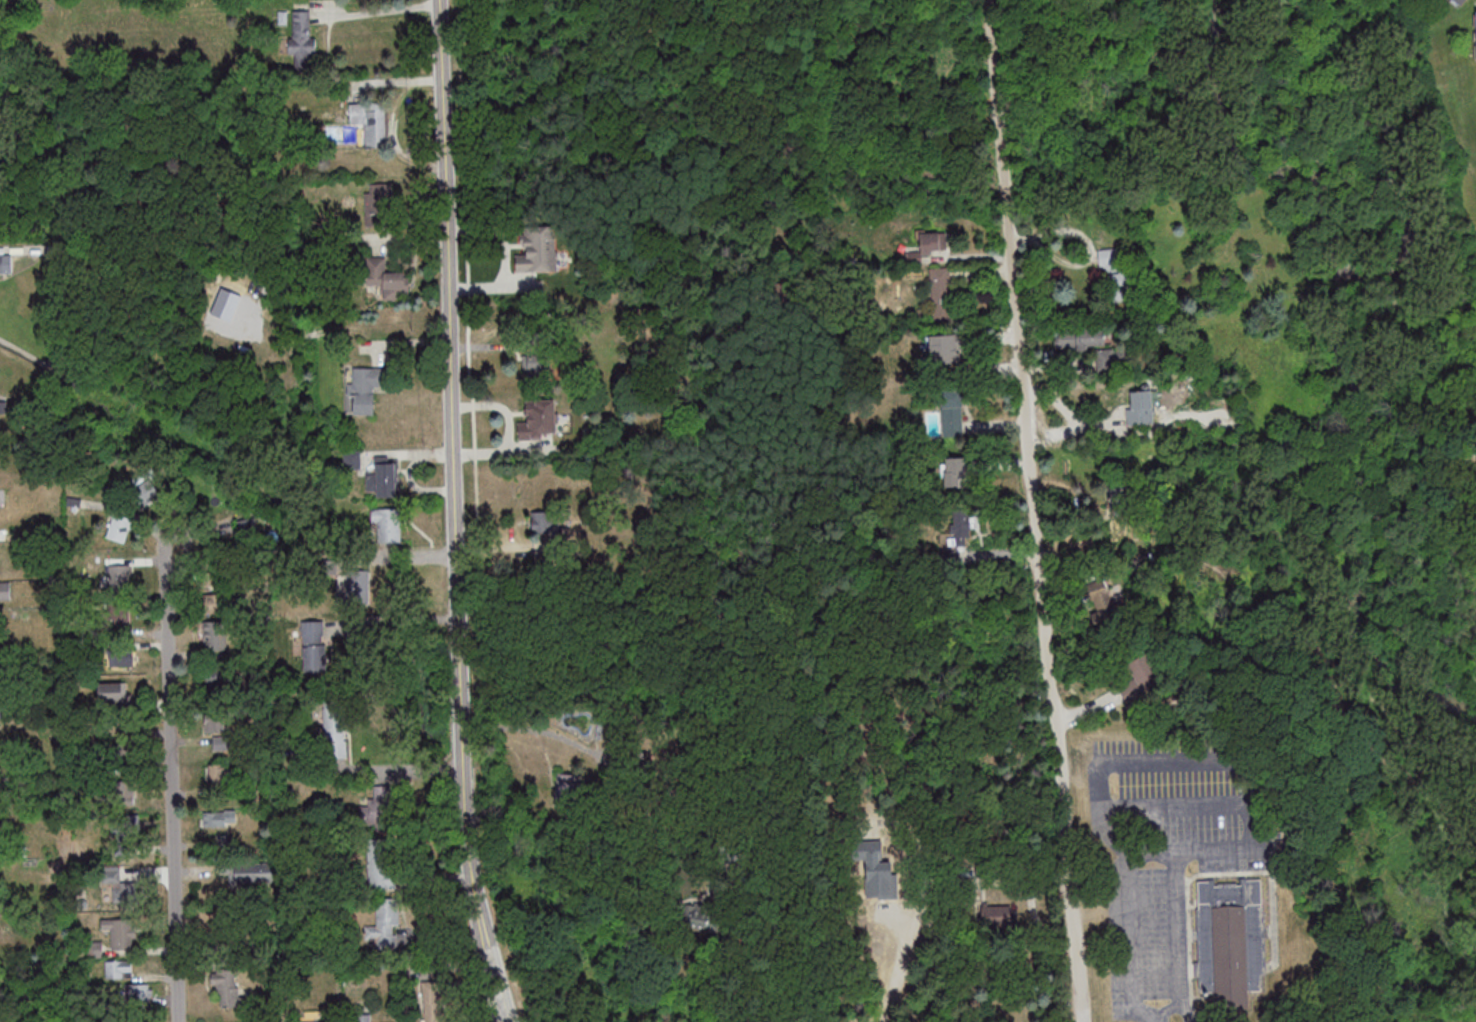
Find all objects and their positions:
building: (1462, 1)
road: (379, 12)
building: (299, 38)
building: (370, 121)
building: (378, 204)
building: (926, 246)
building: (538, 249)
building: (1, 264)
building: (1113, 276)
building: (387, 279)
building: (940, 293)
building: (229, 296)
building: (1083, 338)
building: (942, 349)
river: (1343, 355)
building: (543, 367)
building: (364, 387)
building: (1140, 408)
building: (952, 412)
building: (539, 419)
building: (351, 458)
building: (956, 472)
road: (456, 473)
building: (386, 477)
road: (1033, 511)
building: (545, 522)
building: (387, 523)
building: (119, 527)
building: (247, 527)
building: (960, 528)
building: (119, 574)
building: (220, 579)
building: (357, 586)
building: (4, 590)
building: (1106, 600)
building: (117, 614)
road: (399, 619)
building: (216, 641)
building: (316, 645)
building: (121, 657)
building: (219, 679)
building: (111, 691)
building: (216, 721)
building: (335, 730)
building: (122, 750)
road: (1132, 759)
road: (403, 769)
building: (215, 773)
road: (172, 777)
building: (647, 787)
building: (567, 789)
building: (124, 793)
building: (378, 808)
building: (218, 818)
building: (126, 824)
building: (128, 852)
building: (381, 865)
building: (250, 874)
road: (995, 878)
building: (119, 885)
road: (1031, 903)
building: (697, 912)
building: (999, 916)
building: (384, 925)
road: (1180, 930)
building: (233, 931)
building: (120, 932)
building: (1231, 942)
building: (118, 968)
road: (733, 978)
road: (497, 984)
building: (227, 987)
building: (140, 992)
building: (435, 1001)
road: (1159, 1015)
road: (1185, 1015)
building: (363, 1018)
building: (309, 1021)

